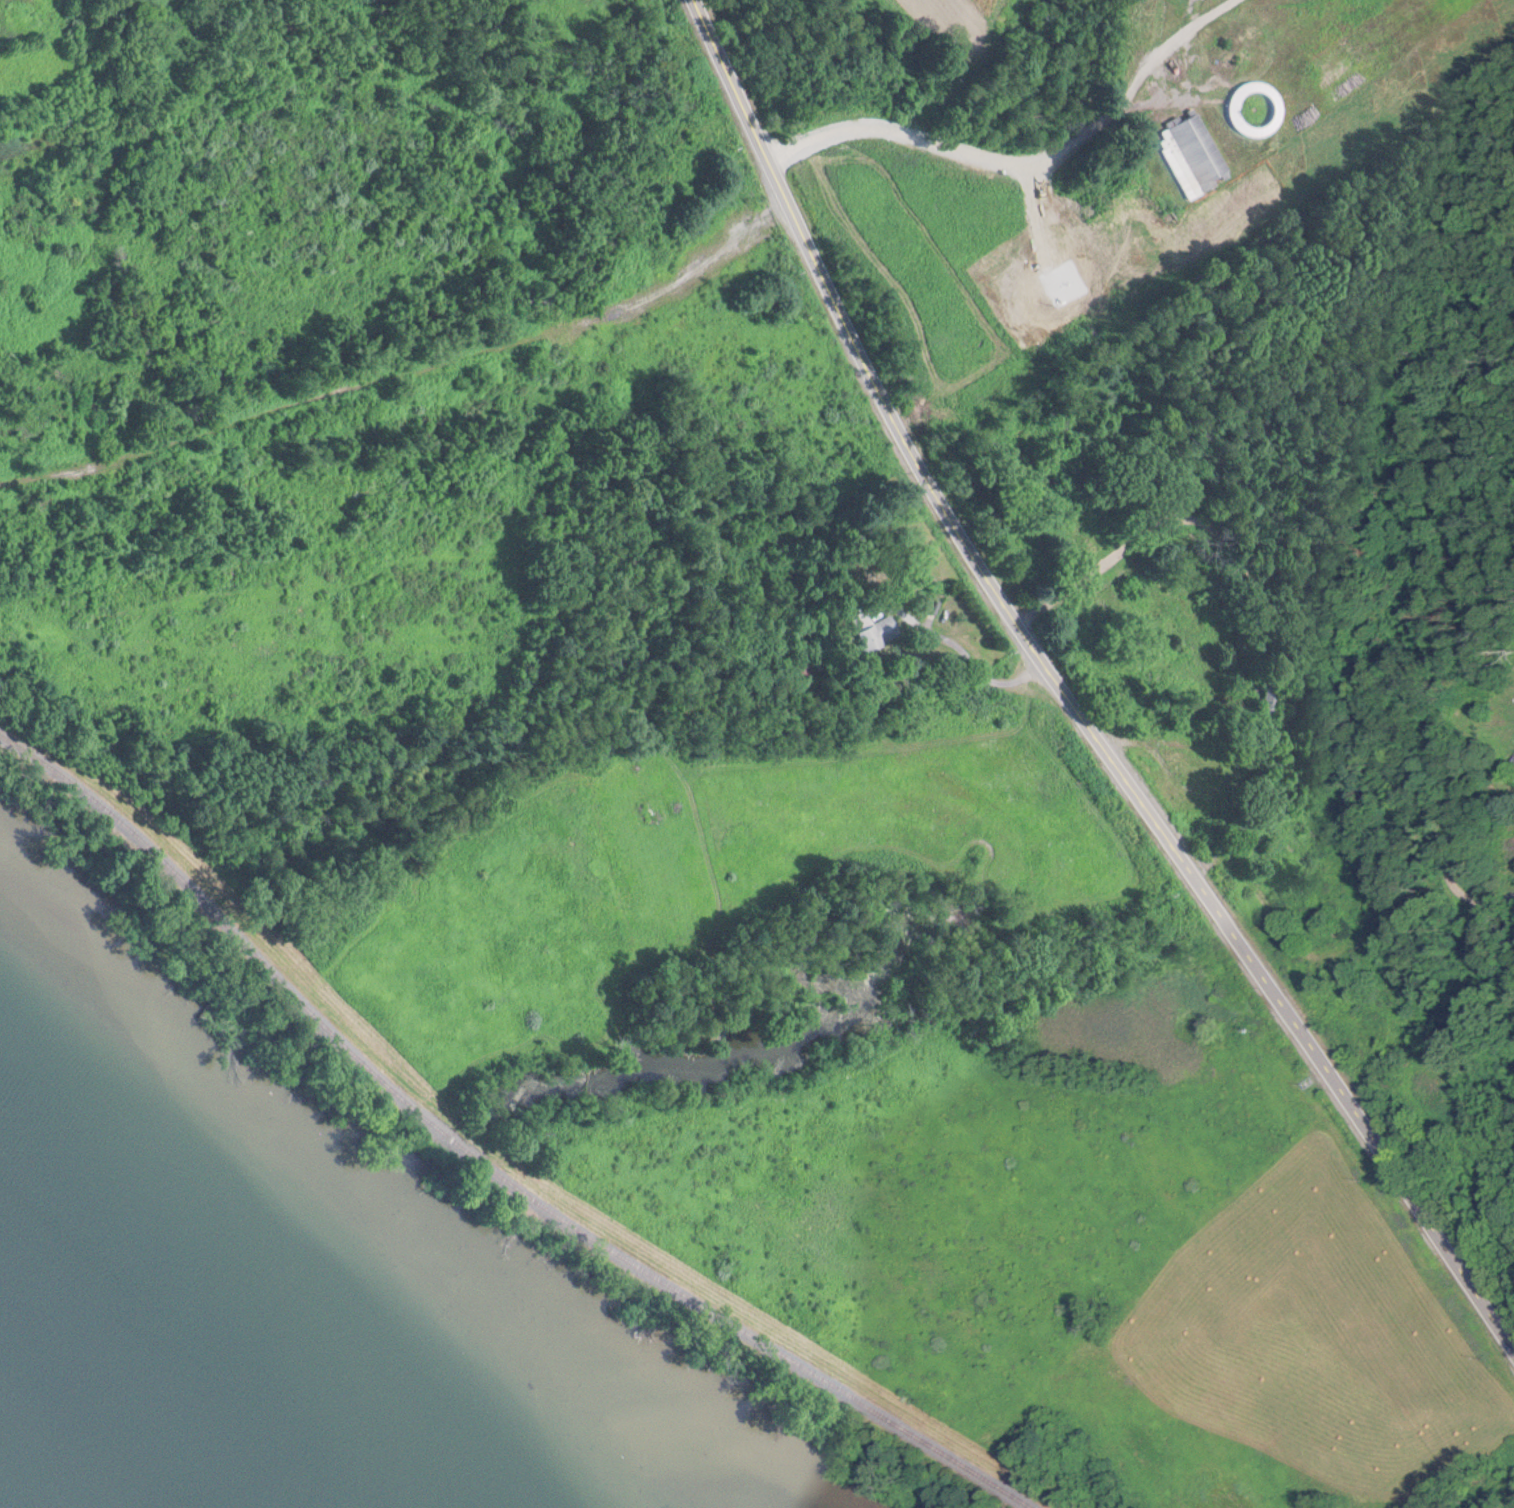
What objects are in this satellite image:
crop: (912, 5)
road: (1081, 58)
road: (1158, 78)
road: (933, 146)
building: (1184, 147)
crop: (991, 313)
road: (404, 368)
road: (1105, 565)
building: (925, 586)
building: (862, 616)
road: (968, 659)
road: (1356, 684)
building: (1258, 690)
road: (1065, 697)
crop: (1497, 743)
building: (1511, 752)
road: (1212, 753)
road: (1257, 795)
road: (1494, 905)
road: (911, 1042)
railway: (479, 1160)
road: (1155, 1270)

